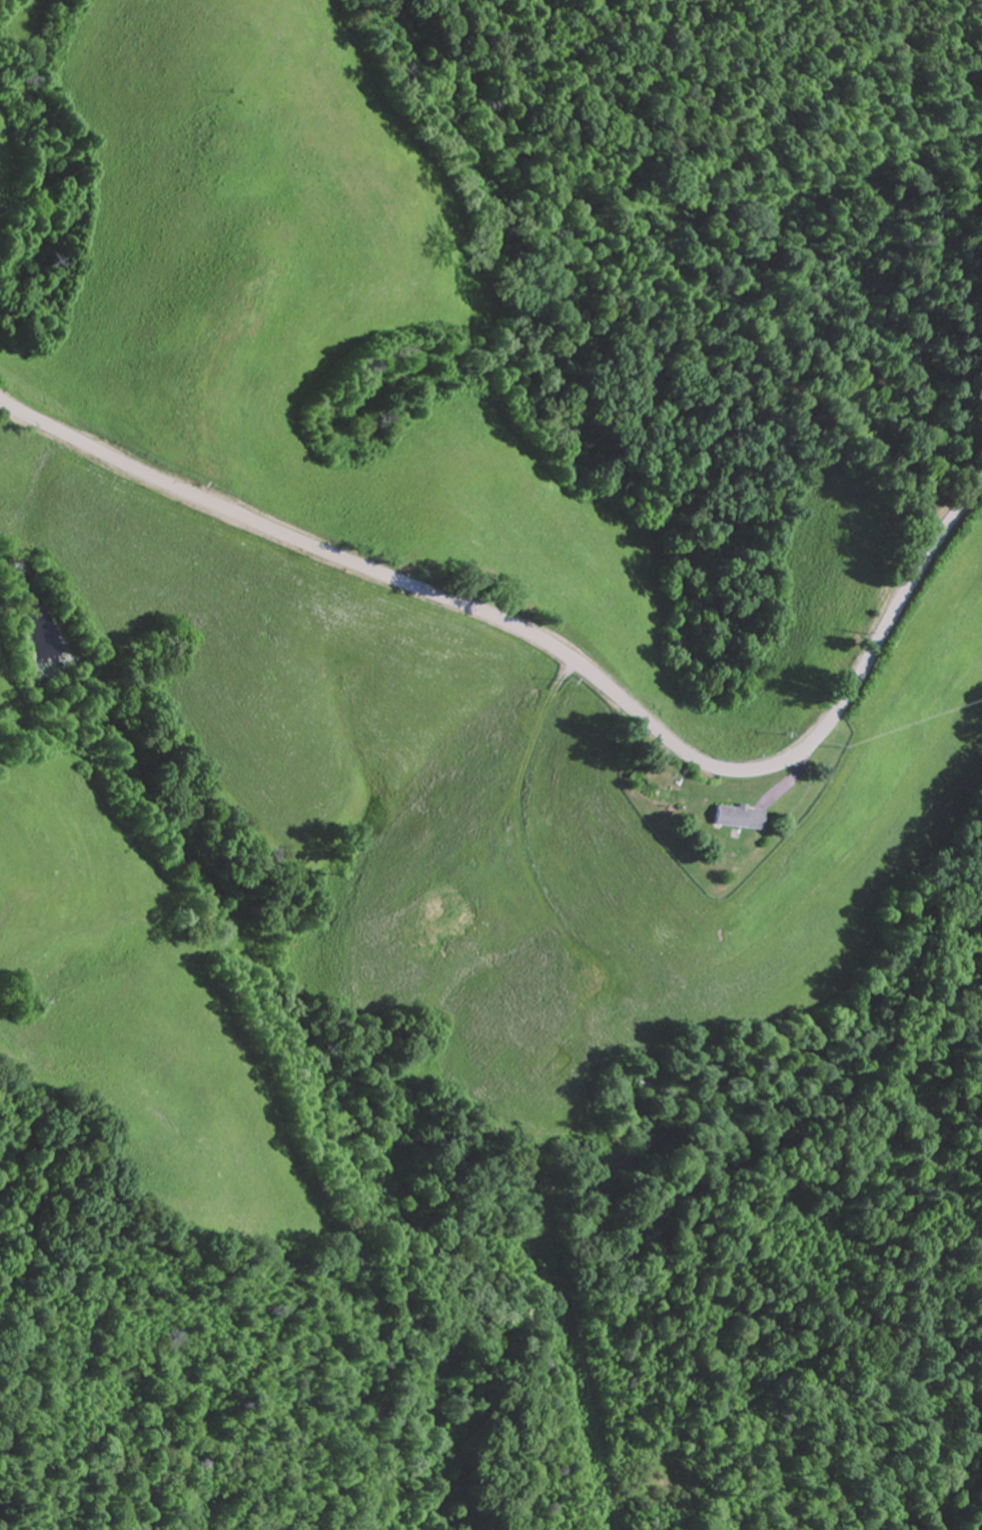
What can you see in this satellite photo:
road: (555, 650)
building: (739, 816)
building: (456, 913)
building: (596, 982)
building: (556, 1063)

